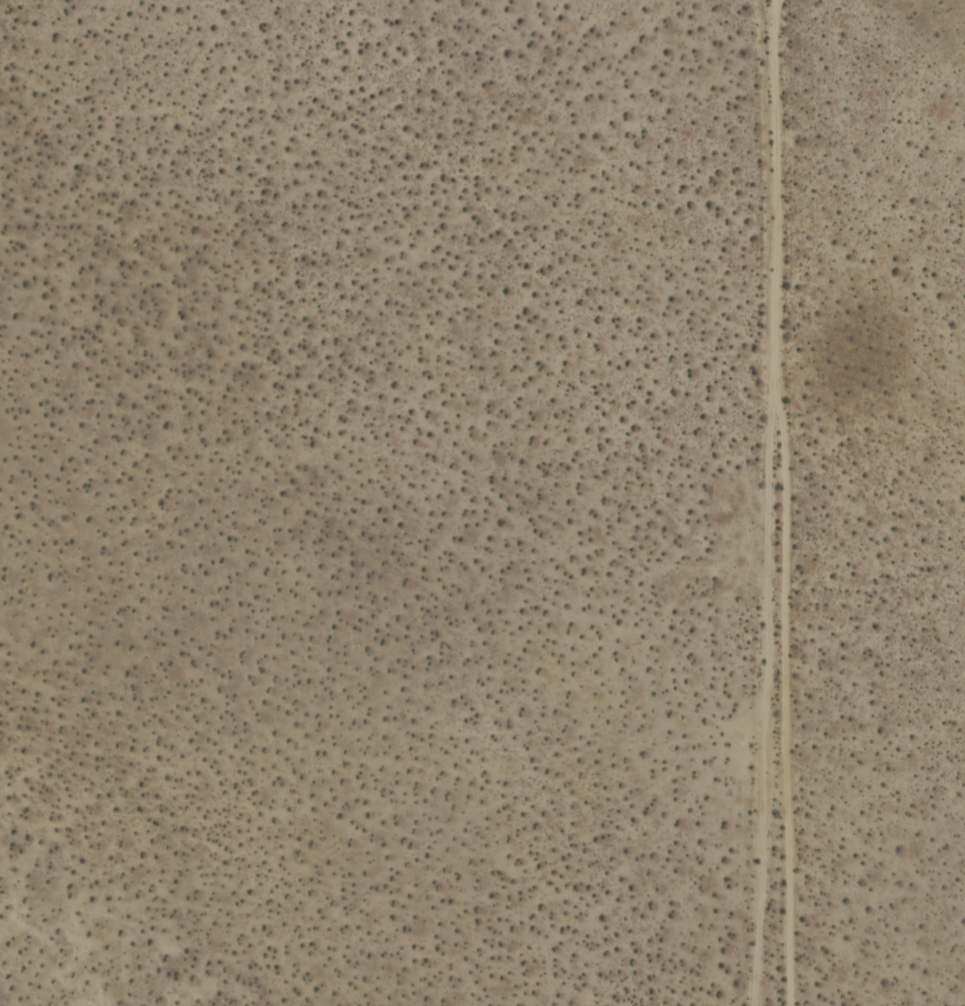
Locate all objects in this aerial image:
road: (778, 502)

